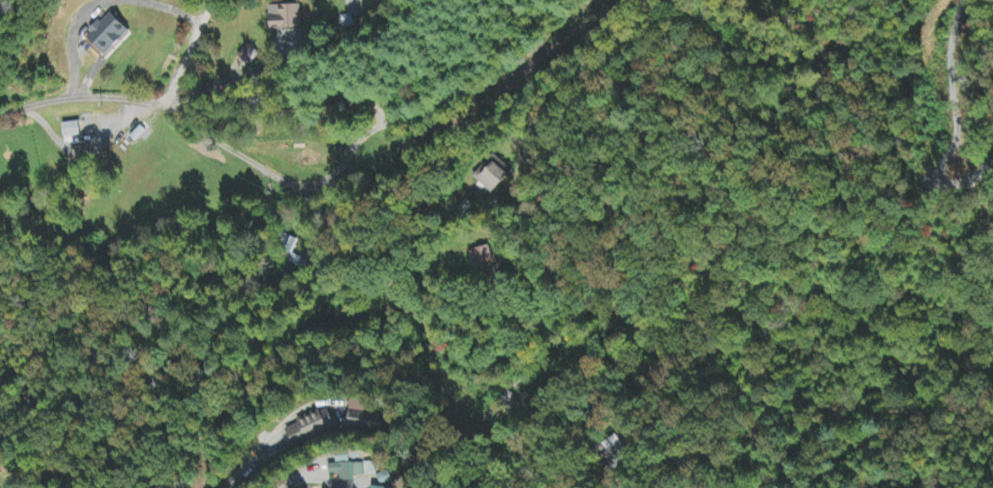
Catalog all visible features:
building: (352, 1)
building: (286, 20)
building: (112, 35)
road: (192, 50)
building: (74, 131)
road: (521, 168)
building: (493, 177)
building: (481, 263)
building: (362, 418)
building: (311, 429)
road: (671, 460)
building: (351, 469)
road: (928, 486)

